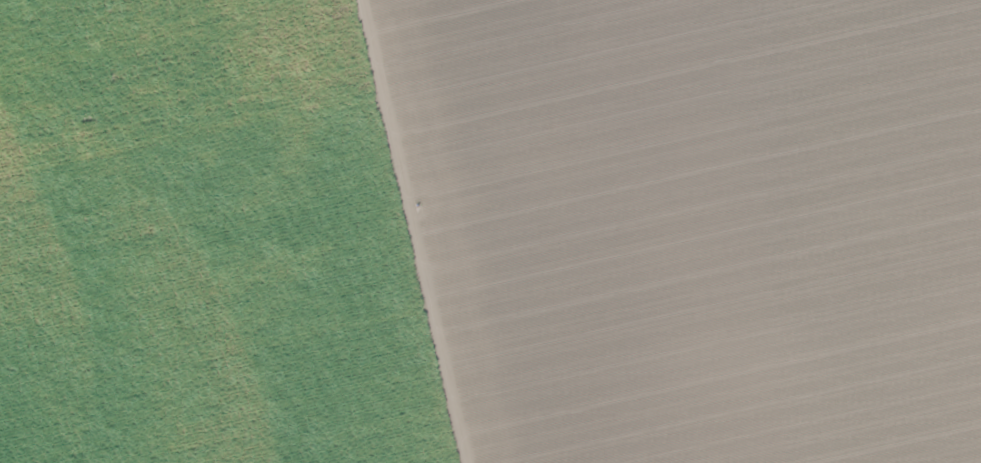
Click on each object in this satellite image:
road: (409, 231)

